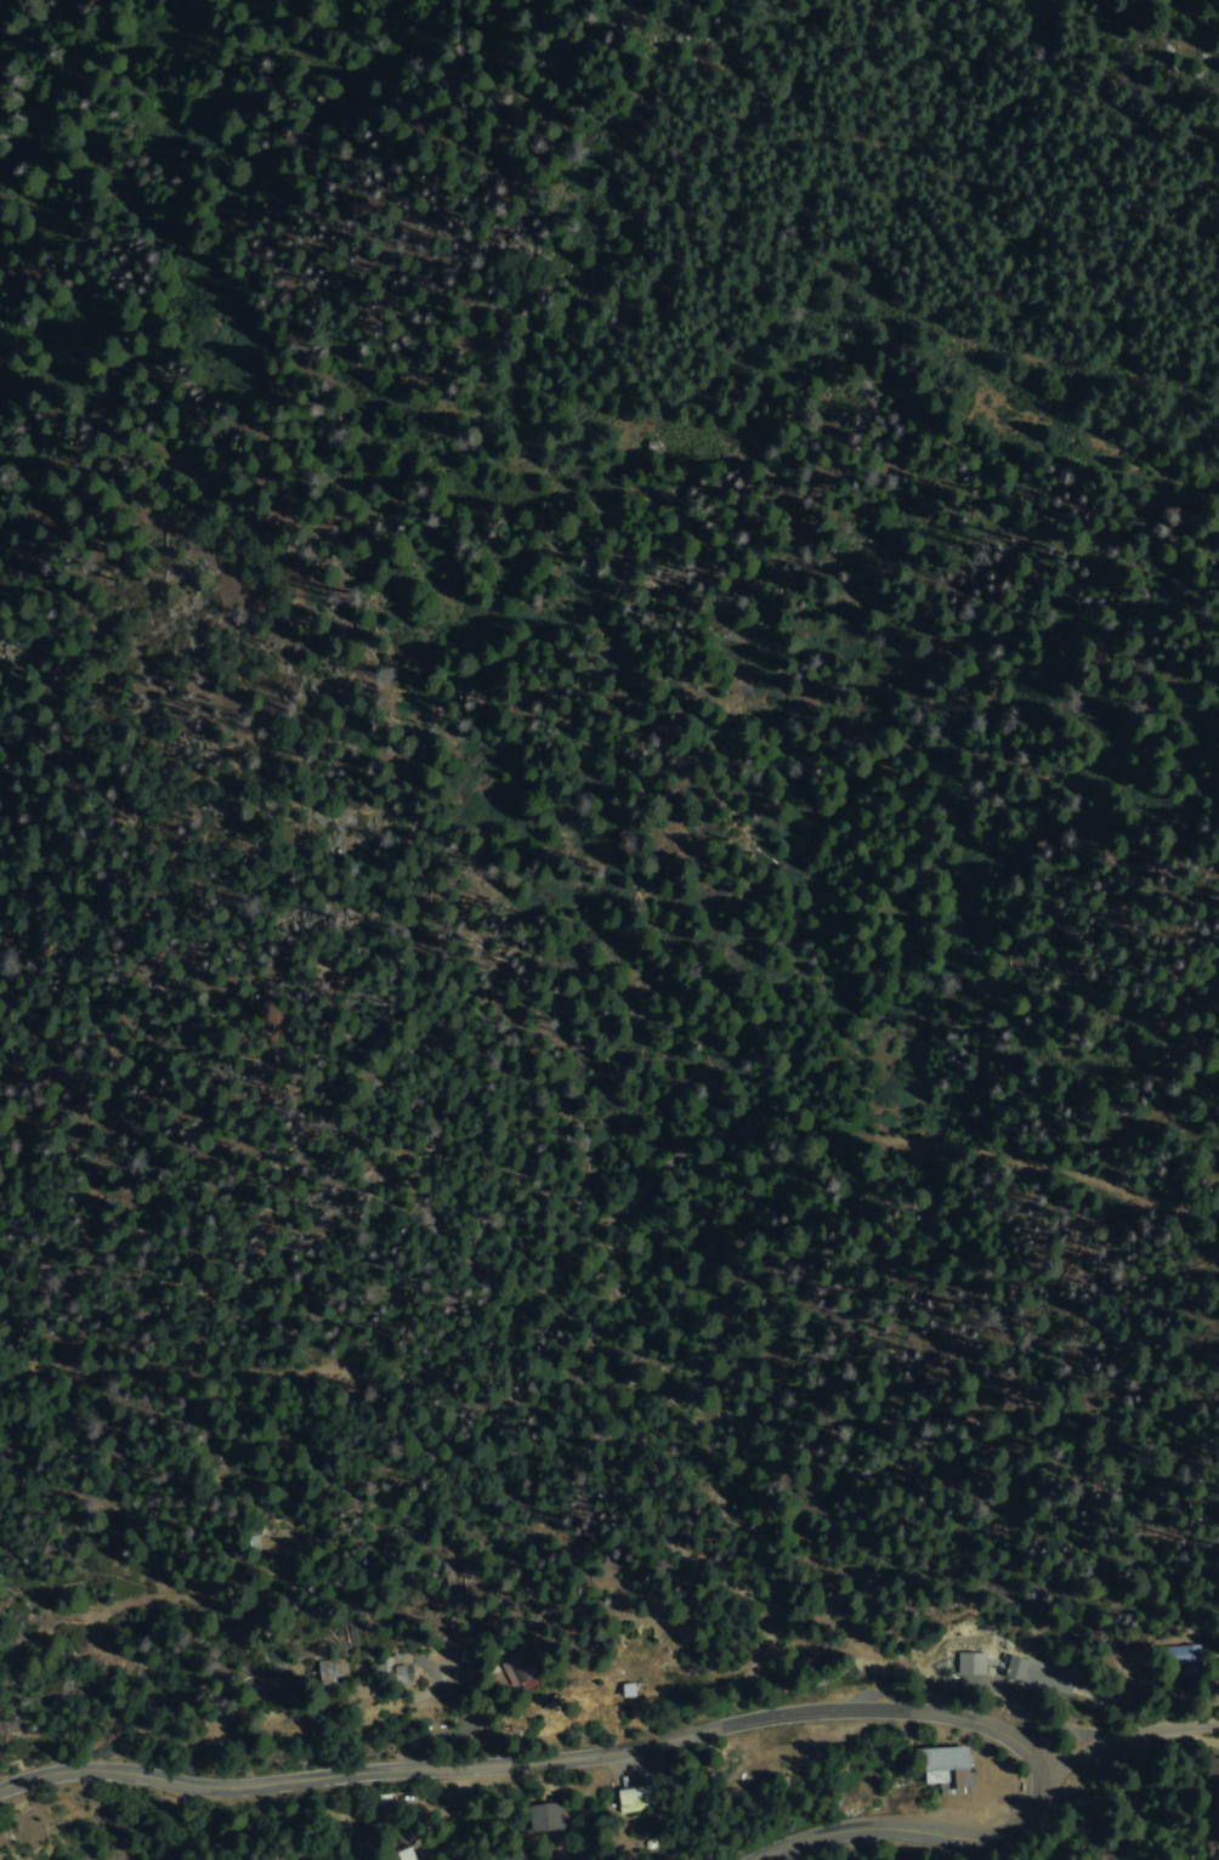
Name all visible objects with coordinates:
building: (1187, 1661)
building: (974, 1665)
building: (381, 1669)
building: (334, 1674)
building: (522, 1674)
building: (1043, 1675)
building: (408, 1677)
road: (692, 1730)
road: (1127, 1733)
building: (949, 1767)
building: (1214, 1771)
building: (642, 1797)
building: (556, 1818)

